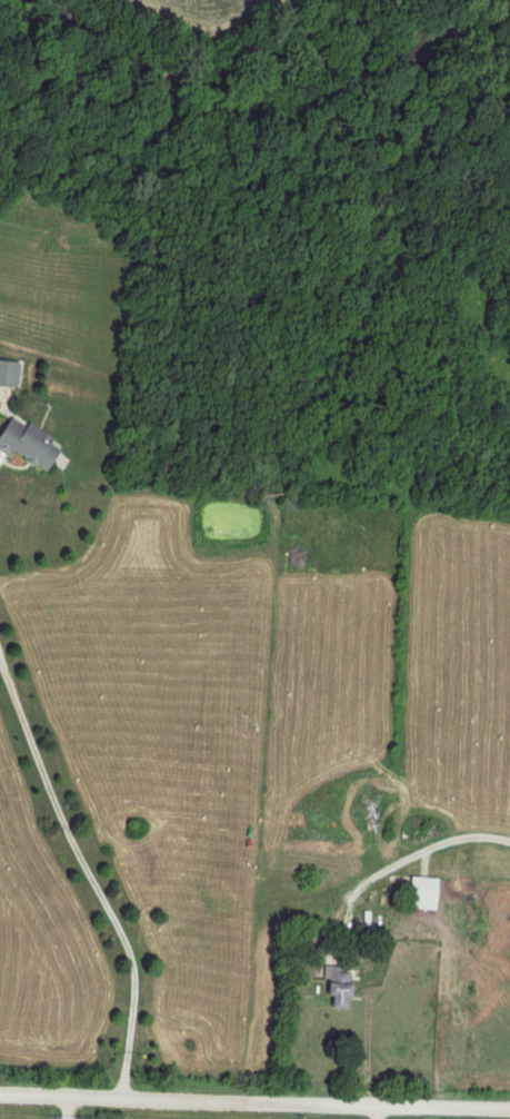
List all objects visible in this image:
river: (271, 76)
building: (9, 375)
building: (30, 447)
road: (87, 872)
building: (420, 893)
road: (340, 909)
building: (338, 989)
road: (254, 1096)

